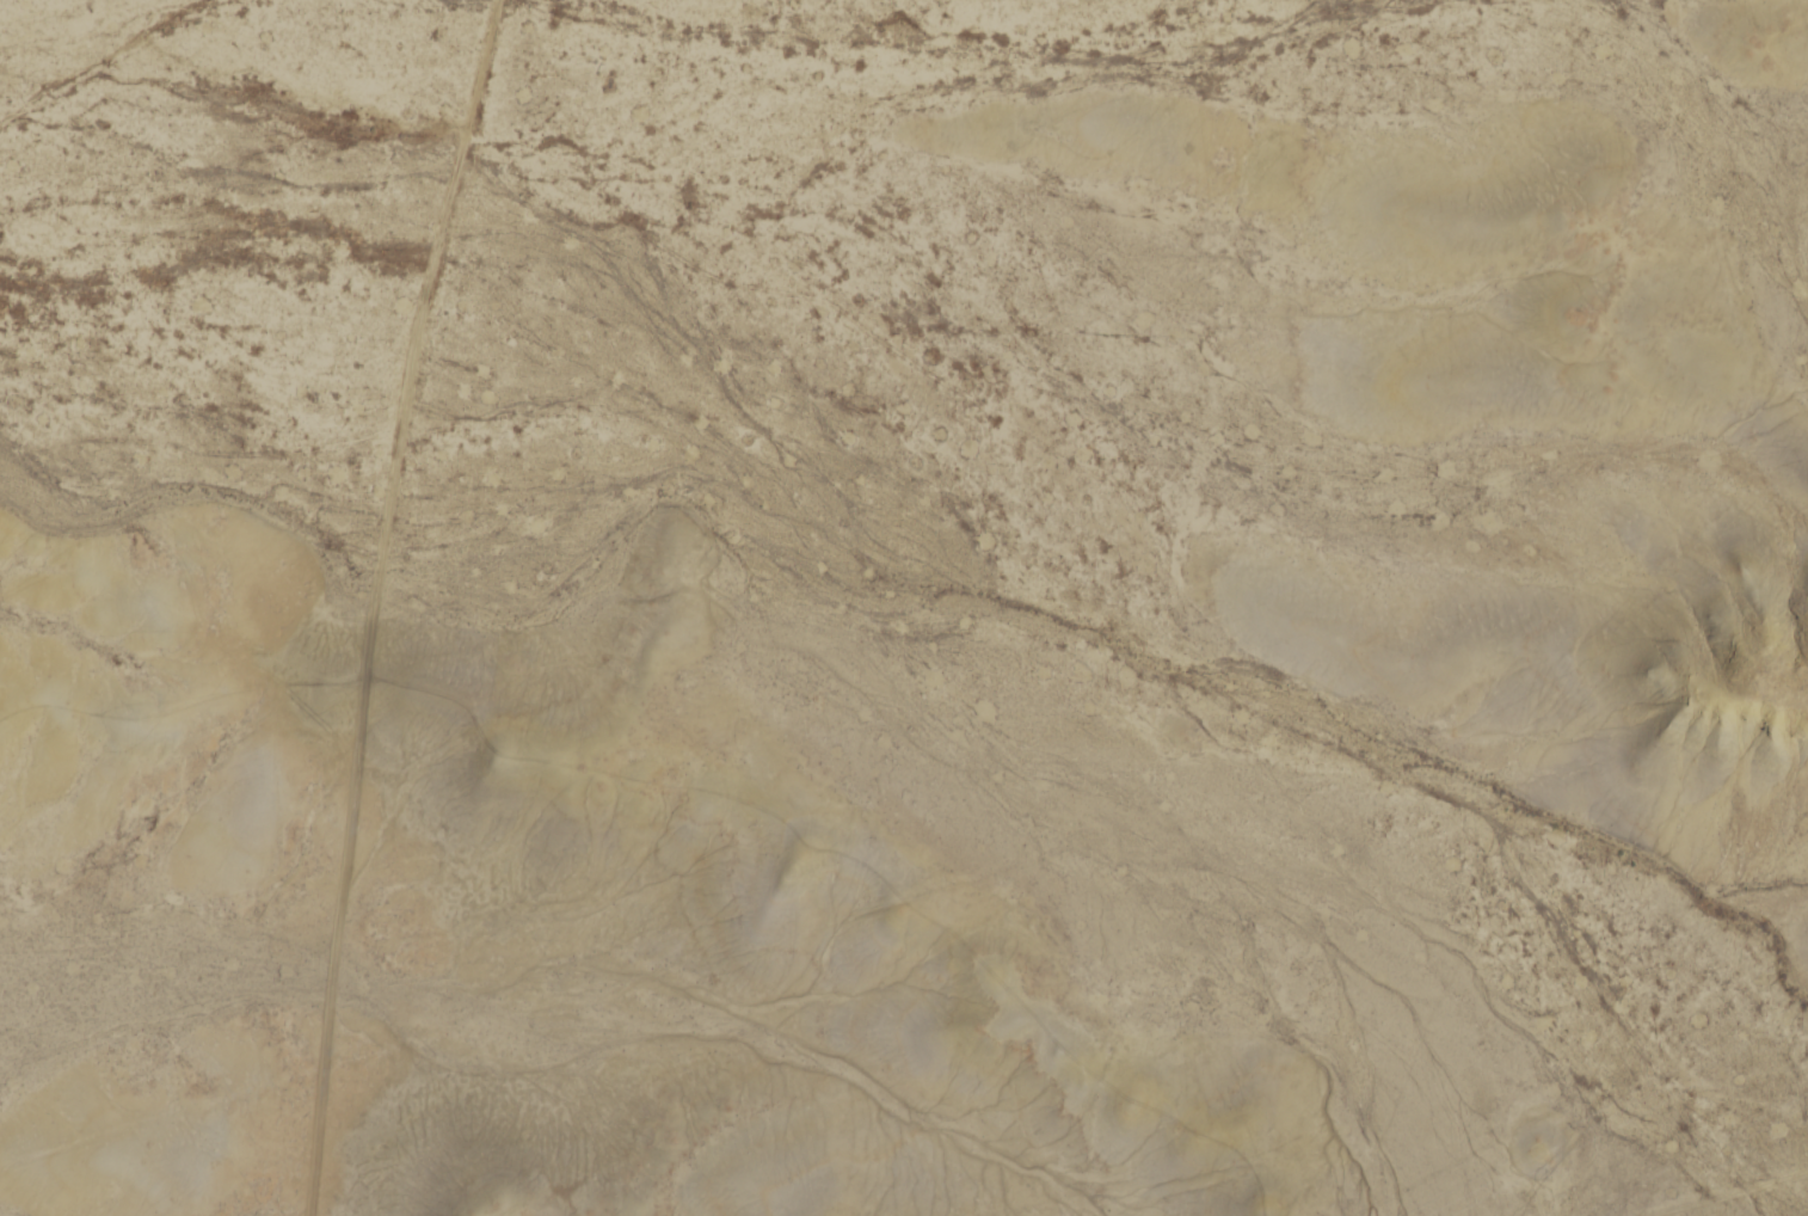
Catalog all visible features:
road: (374, 602)

